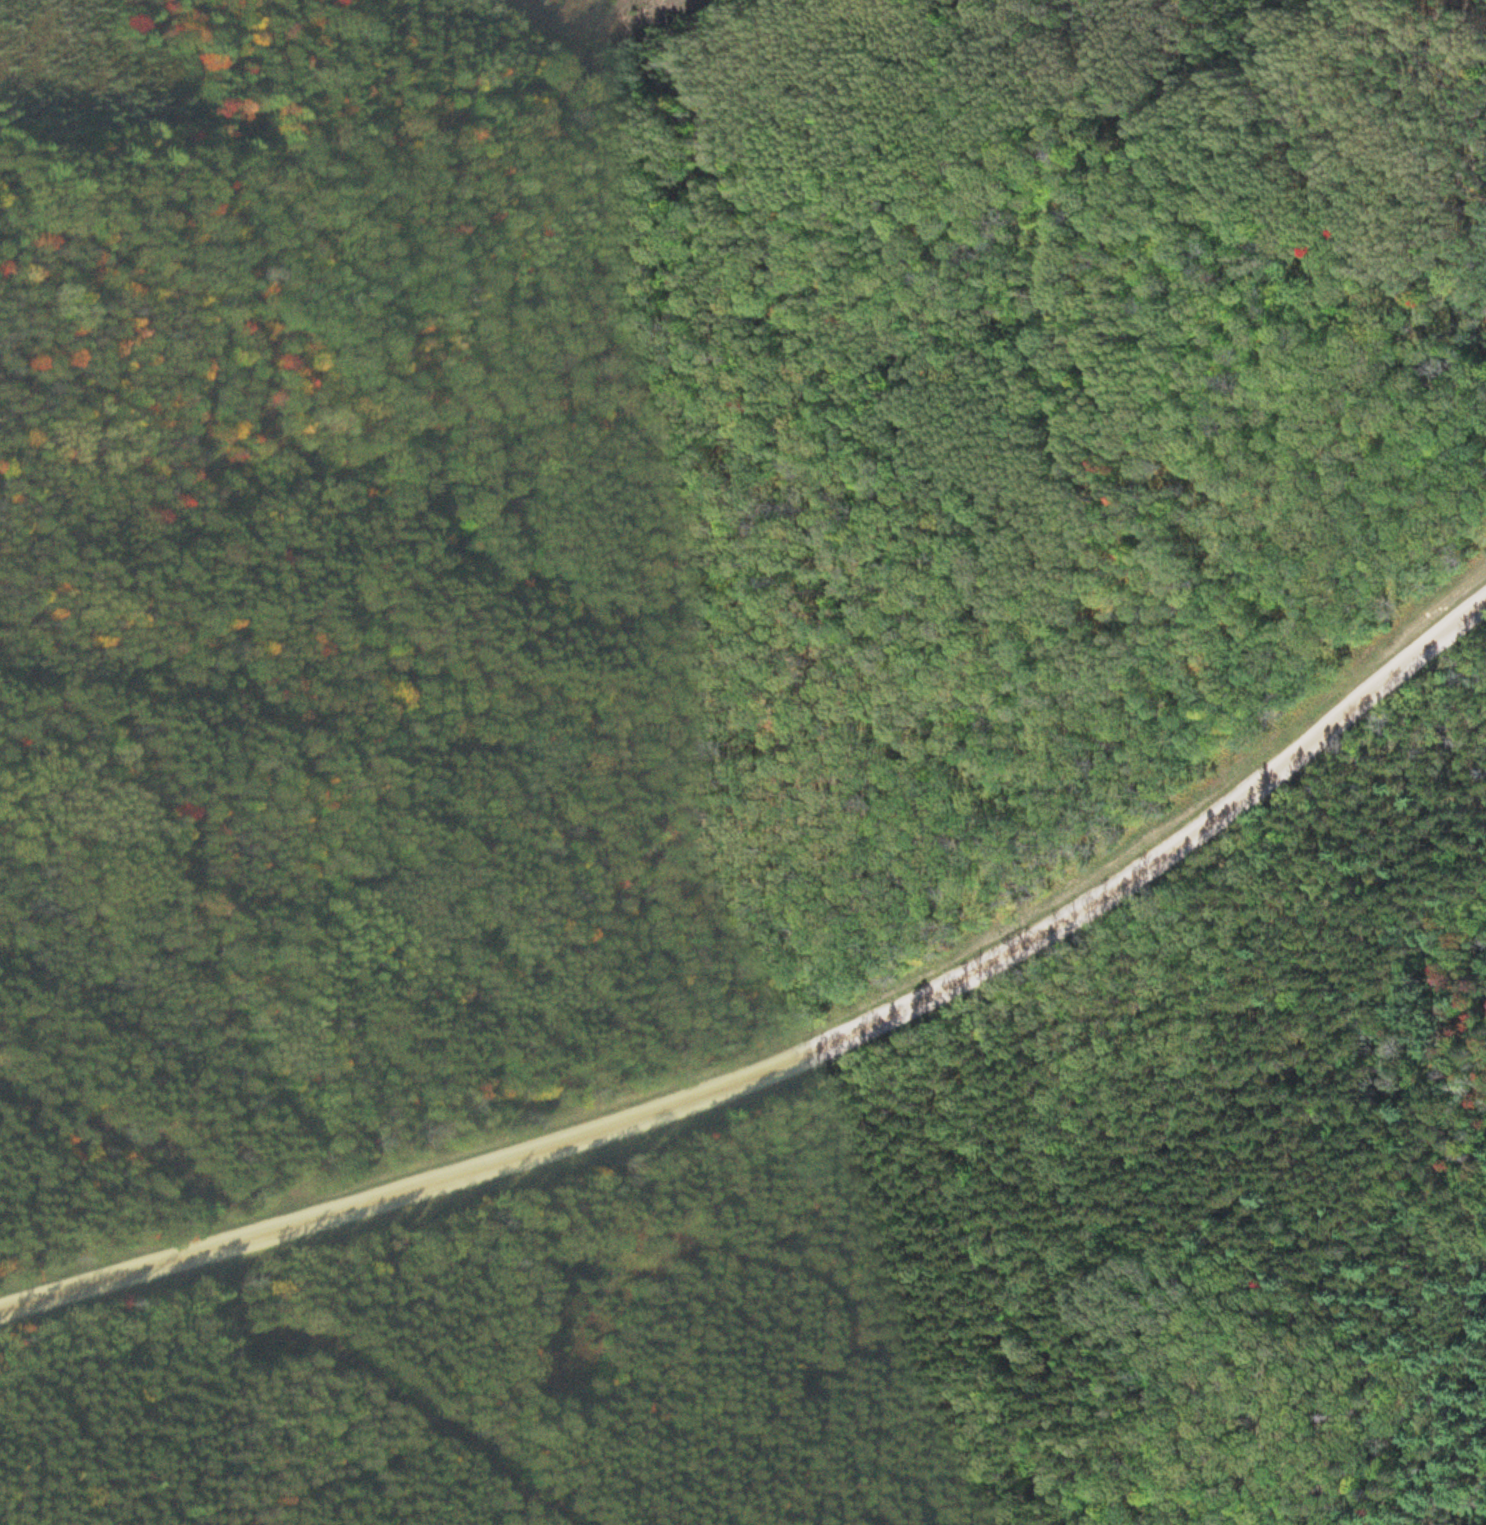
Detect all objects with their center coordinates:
road: (794, 1066)

